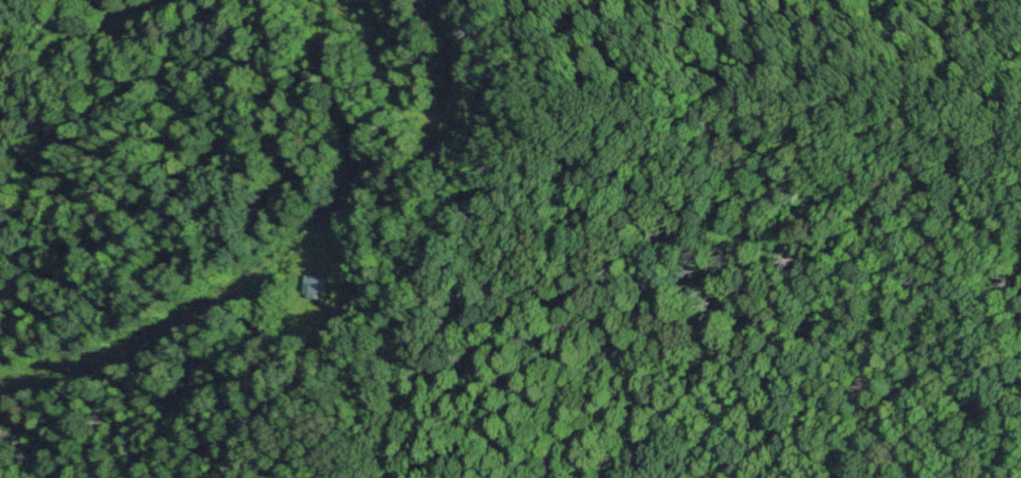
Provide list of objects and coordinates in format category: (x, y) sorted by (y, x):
road: (413, 108)
building: (318, 284)

